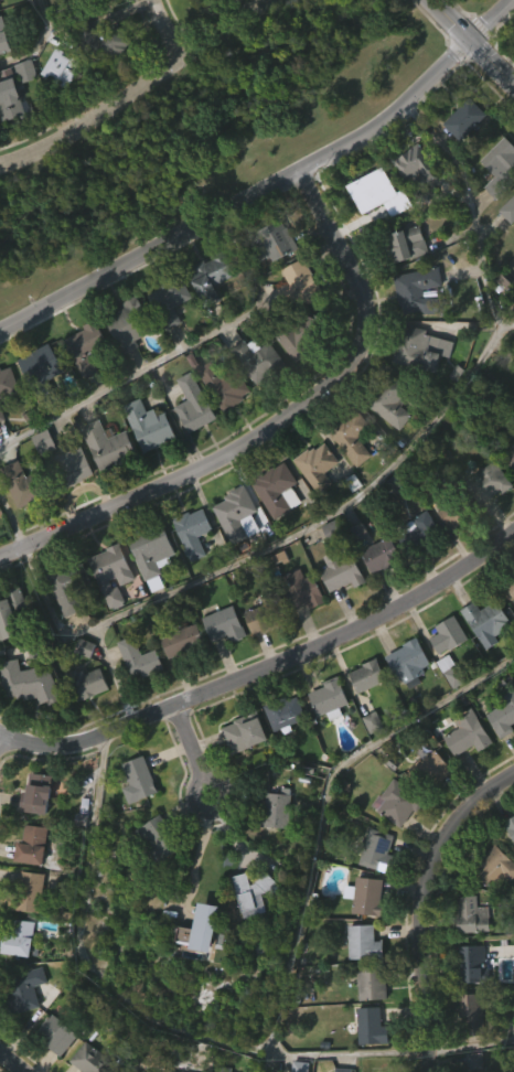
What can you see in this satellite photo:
building: (72, 2)
building: (84, 2)
building: (238, 4)
building: (0, 6)
building: (189, 17)
building: (85, 22)
building: (45, 26)
road: (164, 30)
building: (6, 36)
building: (100, 42)
road: (471, 42)
road: (41, 44)
building: (65, 63)
building: (99, 87)
road: (135, 88)
building: (13, 95)
building: (57, 110)
building: (469, 116)
building: (8, 142)
building: (461, 161)
building: (419, 162)
building: (502, 168)
road: (268, 183)
building: (410, 207)
building: (508, 211)
building: (374, 235)
building: (272, 242)
building: (408, 244)
building: (506, 251)
building: (210, 278)
building: (274, 281)
building: (299, 285)
building: (418, 290)
building: (170, 300)
building: (206, 320)
building: (132, 324)
road: (505, 328)
building: (300, 334)
building: (165, 336)
building: (86, 350)
building: (420, 350)
building: (258, 361)
building: (126, 367)
building: (42, 372)
building: (298, 375)
building: (9, 383)
building: (227, 384)
road: (113, 388)
building: (417, 390)
building: (83, 392)
building: (254, 400)
building: (389, 400)
building: (40, 406)
building: (193, 406)
building: (1, 416)
road: (278, 421)
building: (147, 427)
building: (351, 435)
building: (110, 446)
building: (190, 447)
building: (388, 449)
building: (511, 458)
building: (0, 459)
building: (318, 463)
building: (144, 468)
building: (71, 469)
building: (349, 481)
road: (381, 481)
building: (489, 481)
building: (24, 484)
building: (105, 487)
building: (280, 490)
building: (508, 501)
building: (71, 507)
building: (312, 507)
building: (454, 508)
building: (237, 514)
road: (12, 522)
building: (484, 524)
building: (18, 525)
building: (192, 532)
building: (274, 532)
building: (420, 533)
building: (151, 553)
building: (382, 555)
building: (447, 556)
building: (233, 557)
building: (340, 570)
building: (417, 572)
building: (114, 573)
building: (189, 575)
building: (510, 582)
building: (72, 587)
building: (300, 589)
building: (376, 596)
building: (148, 597)
building: (12, 612)
building: (270, 613)
building: (336, 613)
building: (108, 615)
building: (491, 621)
building: (224, 624)
building: (508, 629)
building: (62, 632)
building: (298, 632)
building: (448, 634)
building: (181, 640)
building: (9, 654)
building: (139, 657)
building: (254, 661)
building: (413, 663)
building: (483, 663)
building: (219, 666)
road: (266, 666)
building: (451, 671)
road: (115, 674)
building: (367, 675)
building: (28, 682)
building: (85, 683)
building: (178, 683)
building: (135, 699)
building: (332, 699)
building: (404, 704)
building: (285, 712)
building: (446, 712)
building: (504, 716)
building: (363, 717)
building: (25, 723)
building: (82, 725)
building: (245, 731)
building: (468, 732)
building: (324, 740)
road: (193, 750)
building: (281, 754)
building: (500, 758)
building: (430, 770)
building: (240, 774)
building: (463, 775)
building: (142, 780)
building: (41, 795)
building: (397, 802)
building: (277, 810)
building: (427, 811)
building: (135, 822)
building: (511, 825)
building: (158, 839)
road: (236, 840)
building: (393, 844)
building: (35, 846)
road: (199, 849)
building: (376, 849)
building: (272, 850)
building: (494, 867)
building: (150, 881)
building: (28, 892)
building: (365, 896)
road: (422, 904)
building: (476, 914)
building: (248, 934)
building: (24, 937)
building: (363, 943)
building: (474, 962)
building: (195, 971)
building: (372, 983)
building: (23, 990)
building: (472, 1012)
building: (371, 1027)
building: (20, 1032)
building: (57, 1035)
road: (471, 1046)
building: (467, 1051)
building: (96, 1059)
building: (366, 1061)
road: (11, 1062)
building: (52, 1065)
building: (170, 1071)

